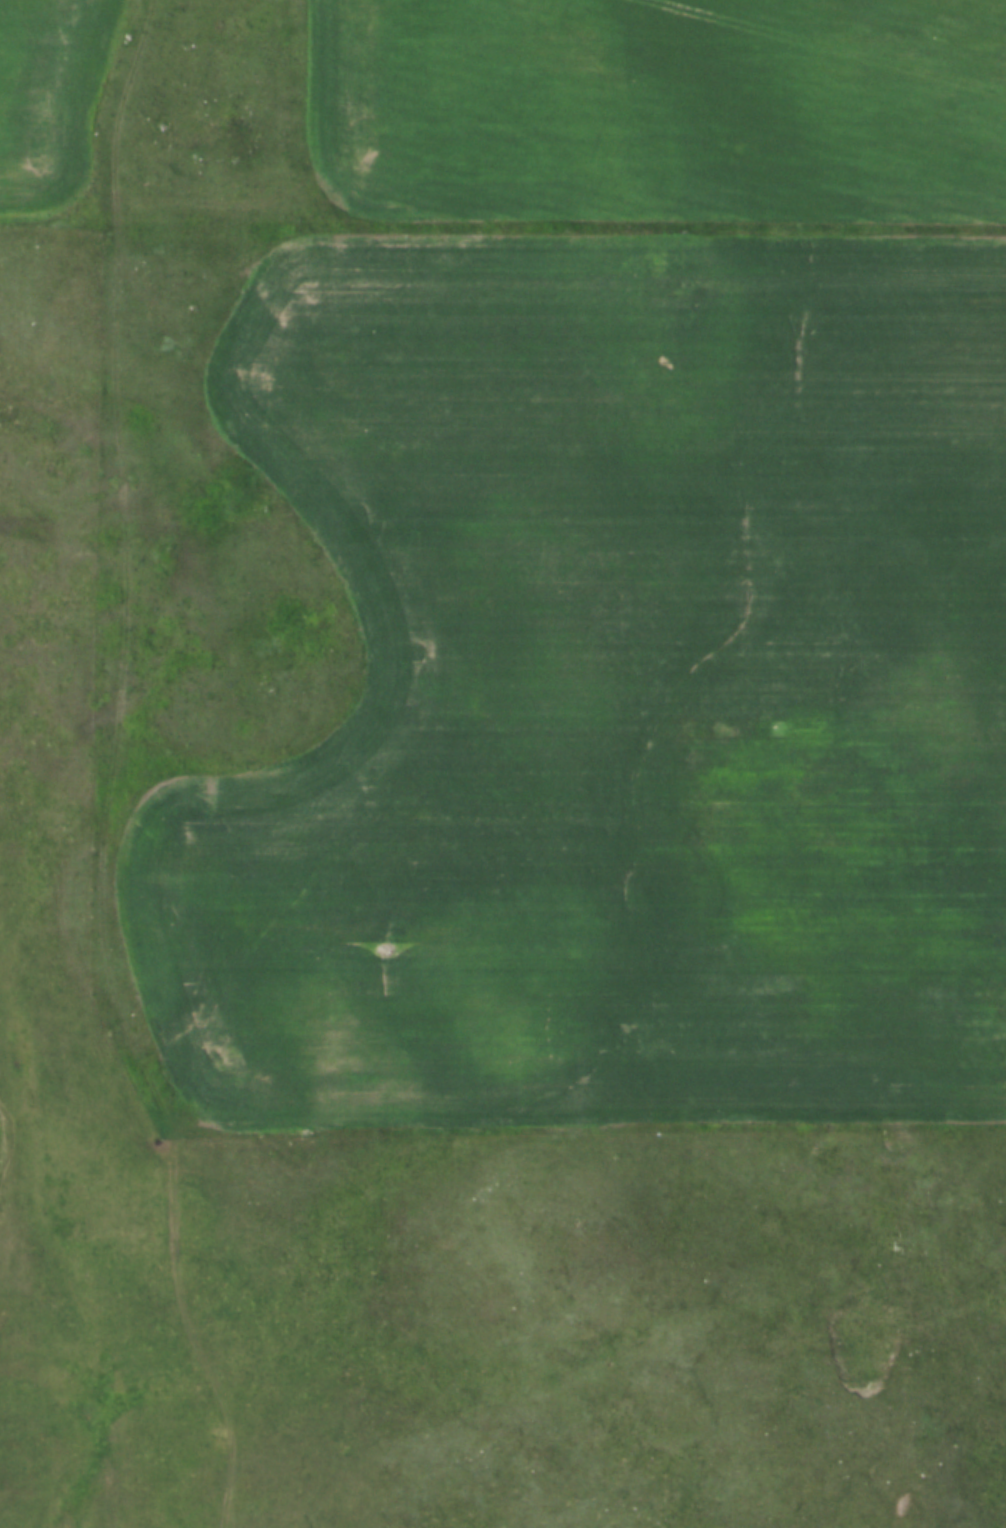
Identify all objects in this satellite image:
road: (223, 1394)

